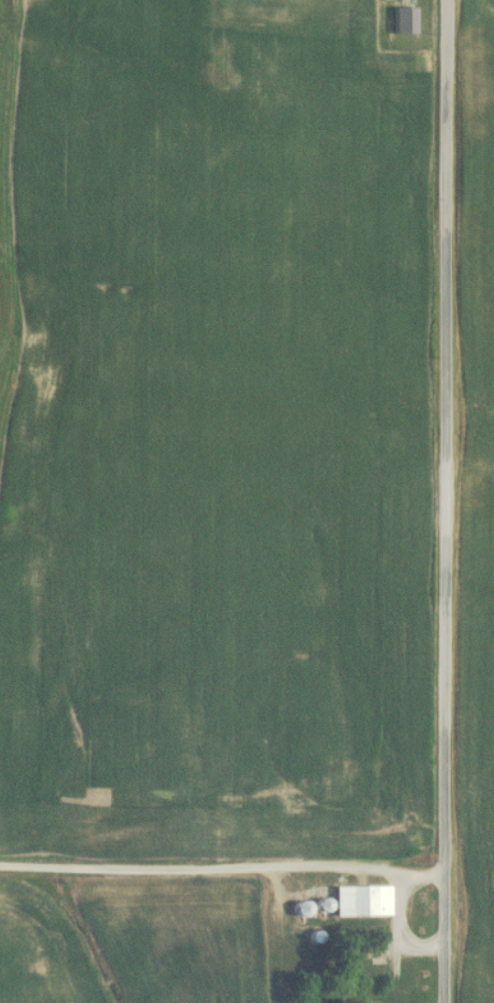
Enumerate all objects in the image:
road: (444, 501)
road: (222, 867)
building: (357, 898)
building: (298, 908)
road: (399, 927)
building: (360, 952)

